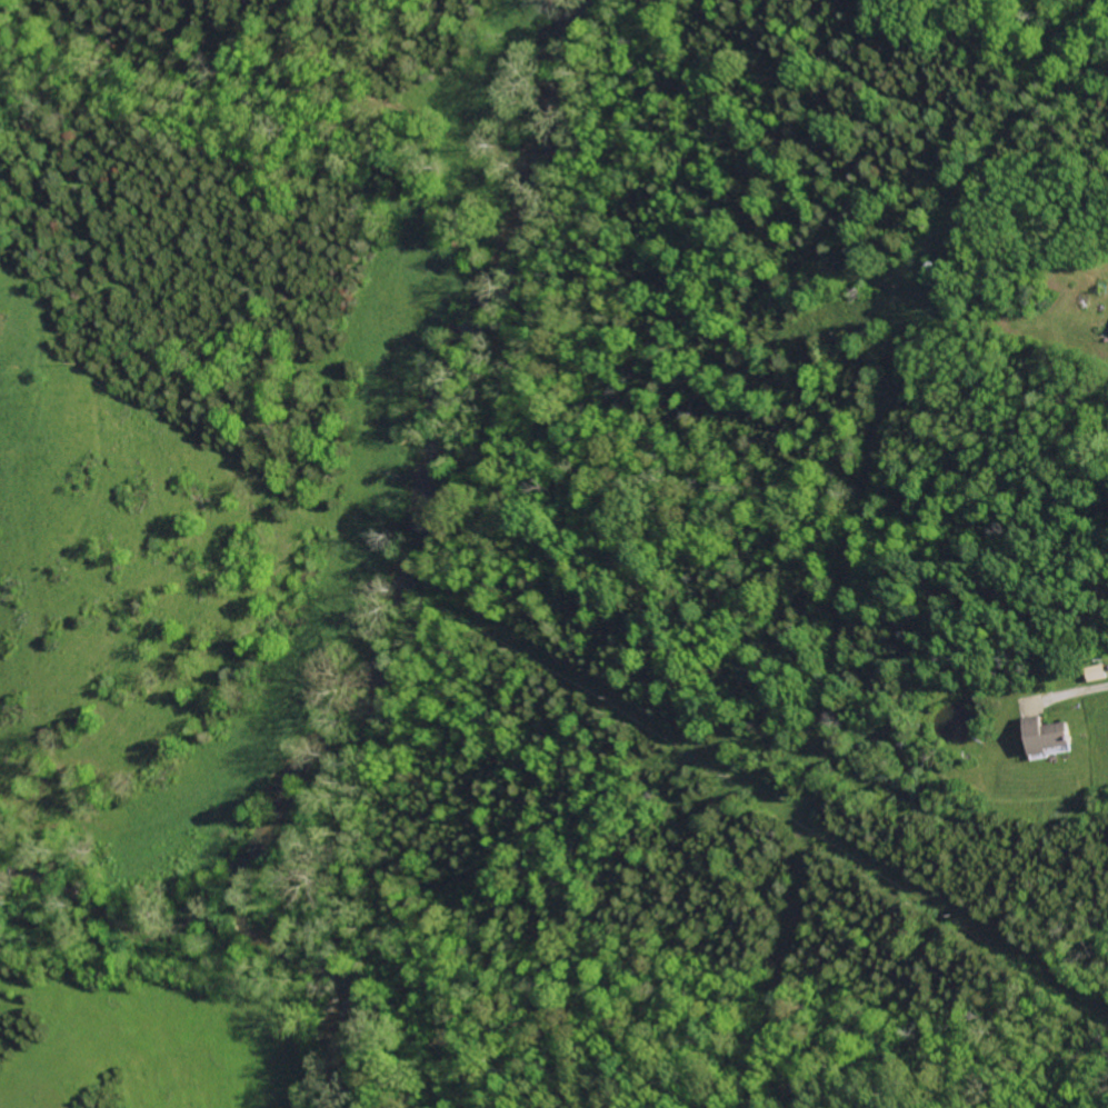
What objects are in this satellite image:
road: (1069, 693)
building: (1048, 735)

